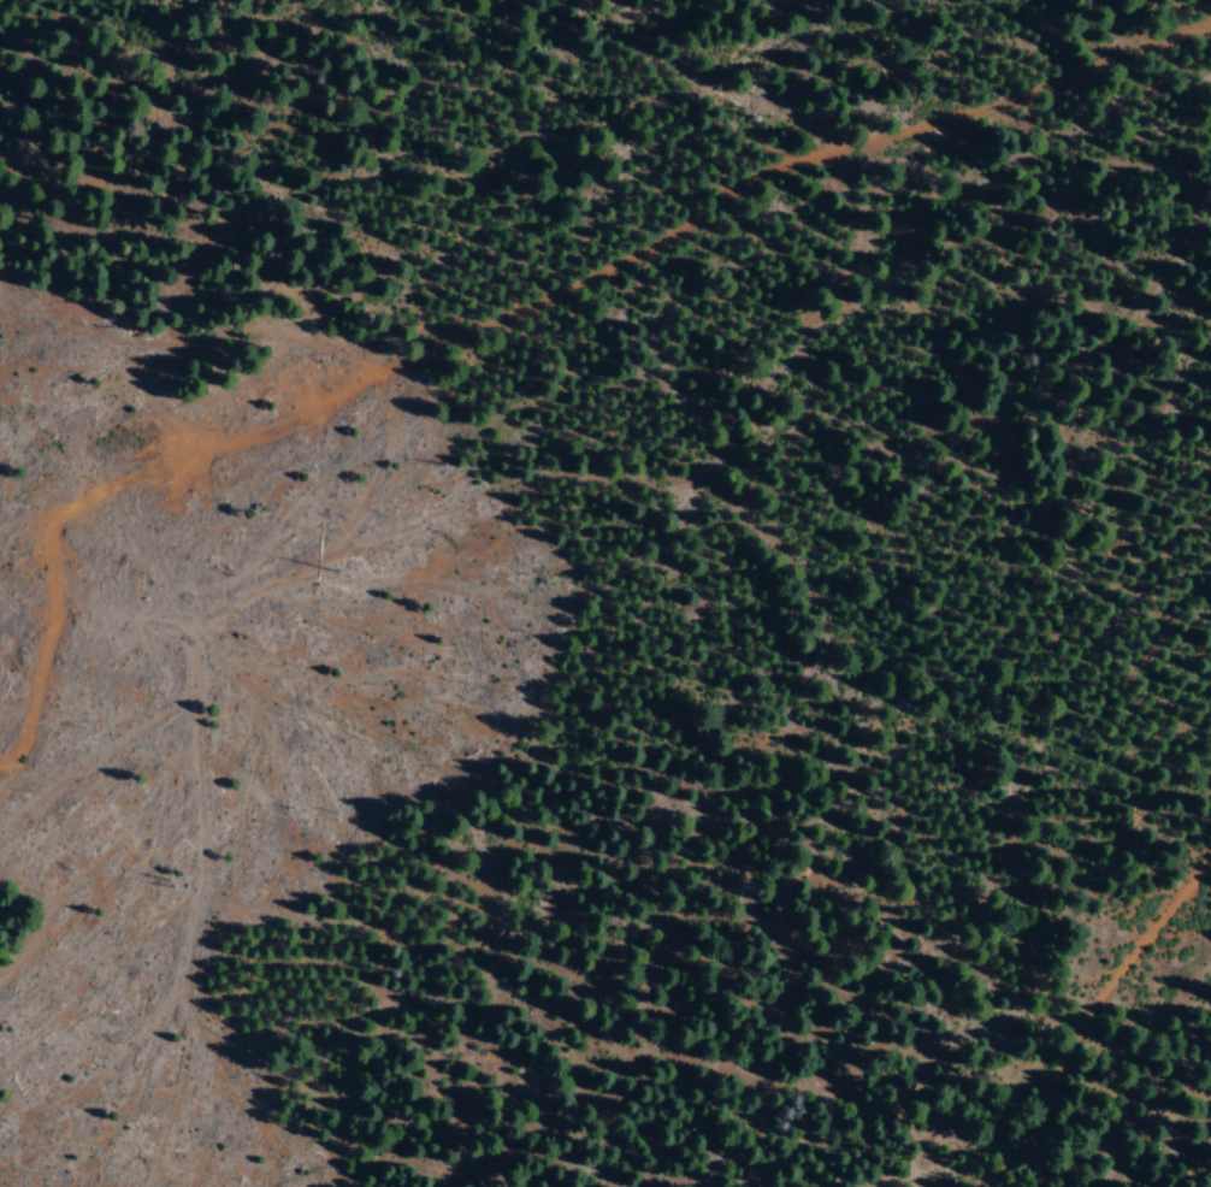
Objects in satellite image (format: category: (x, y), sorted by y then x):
road: (526, 330)
road: (1081, 1029)

